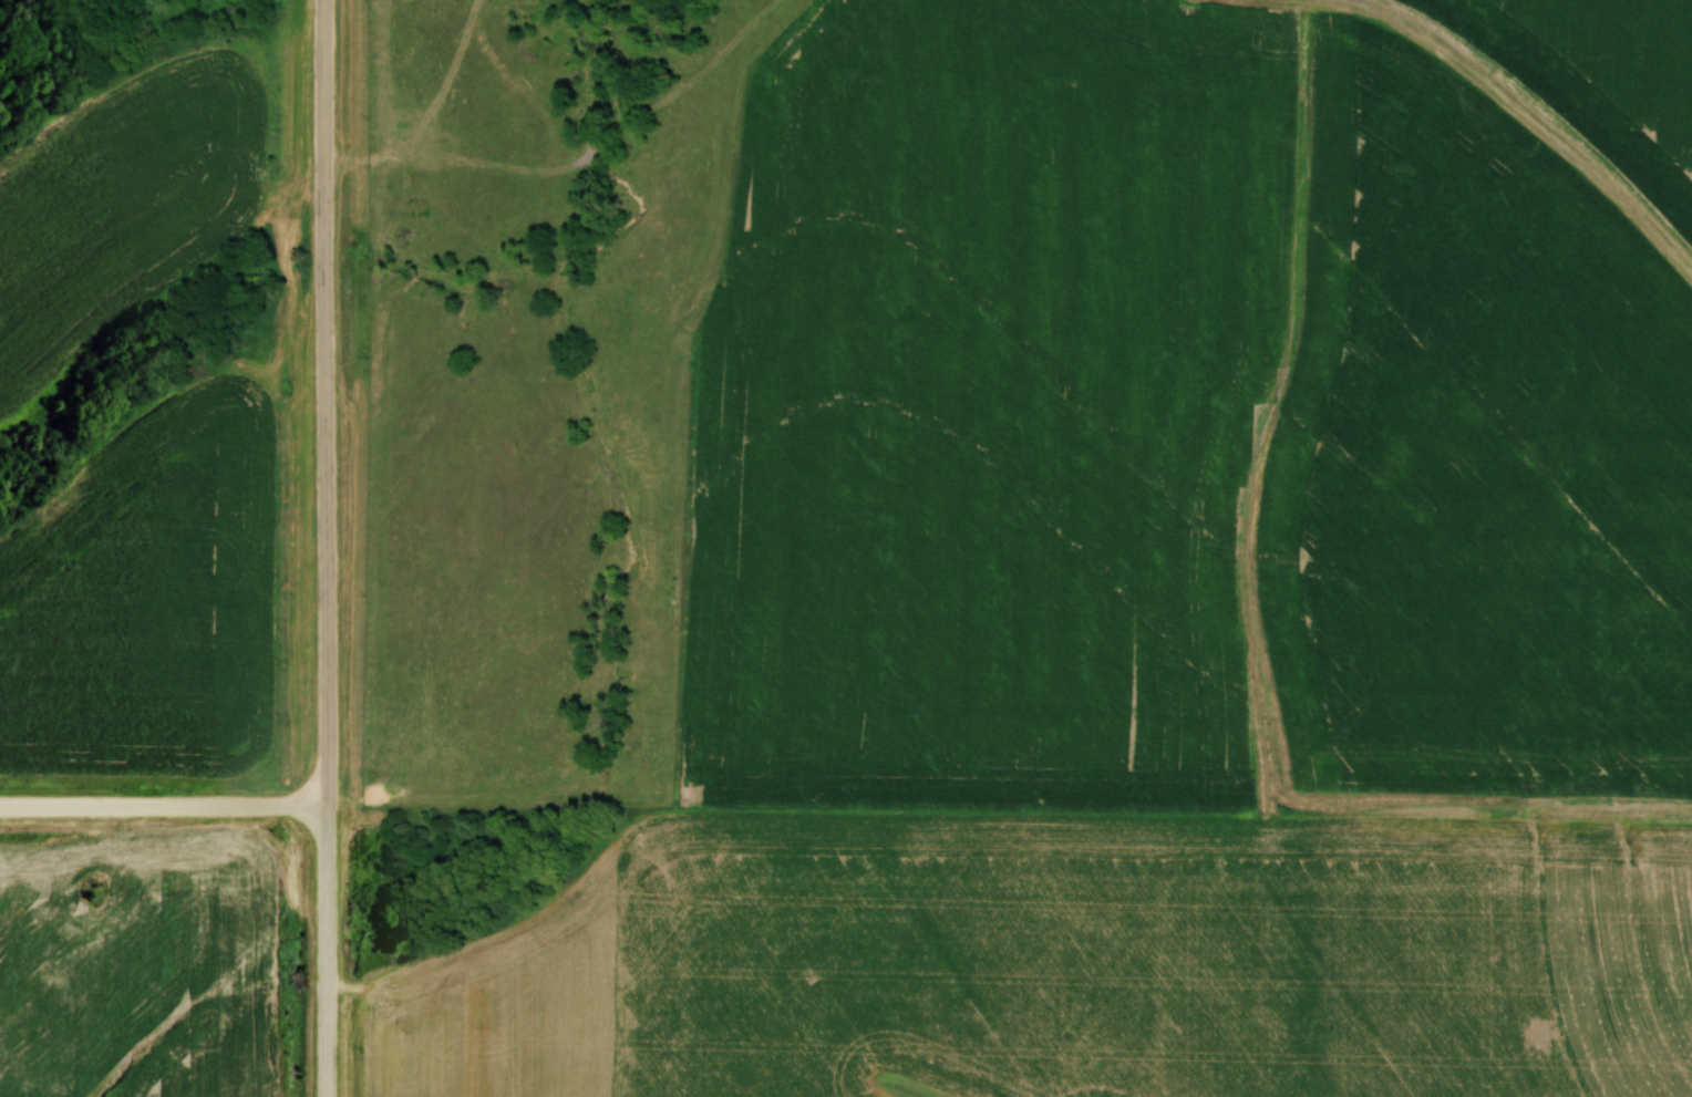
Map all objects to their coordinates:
road: (324, 548)
road: (162, 804)

